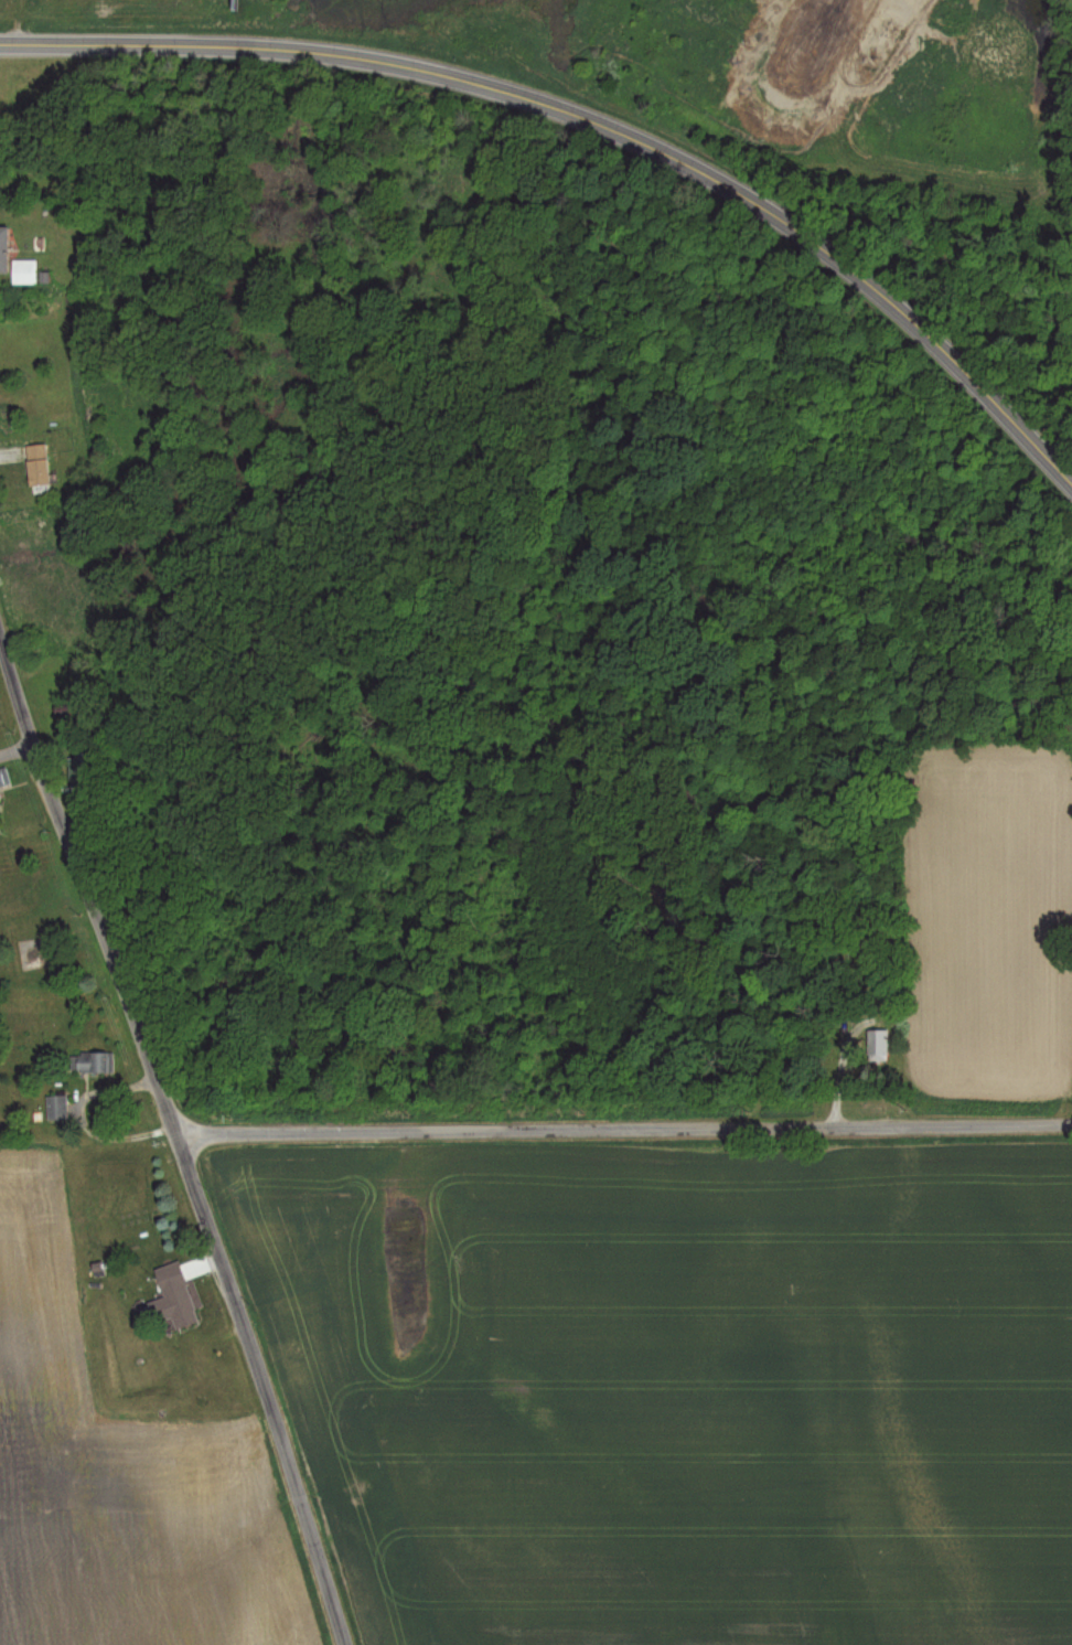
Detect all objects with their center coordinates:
road: (594, 120)
building: (3, 249)
building: (23, 271)
building: (36, 466)
building: (77, 767)
building: (3, 777)
building: (877, 1043)
building: (90, 1060)
building: (56, 1105)
road: (623, 1128)
road: (176, 1143)
building: (172, 1297)

